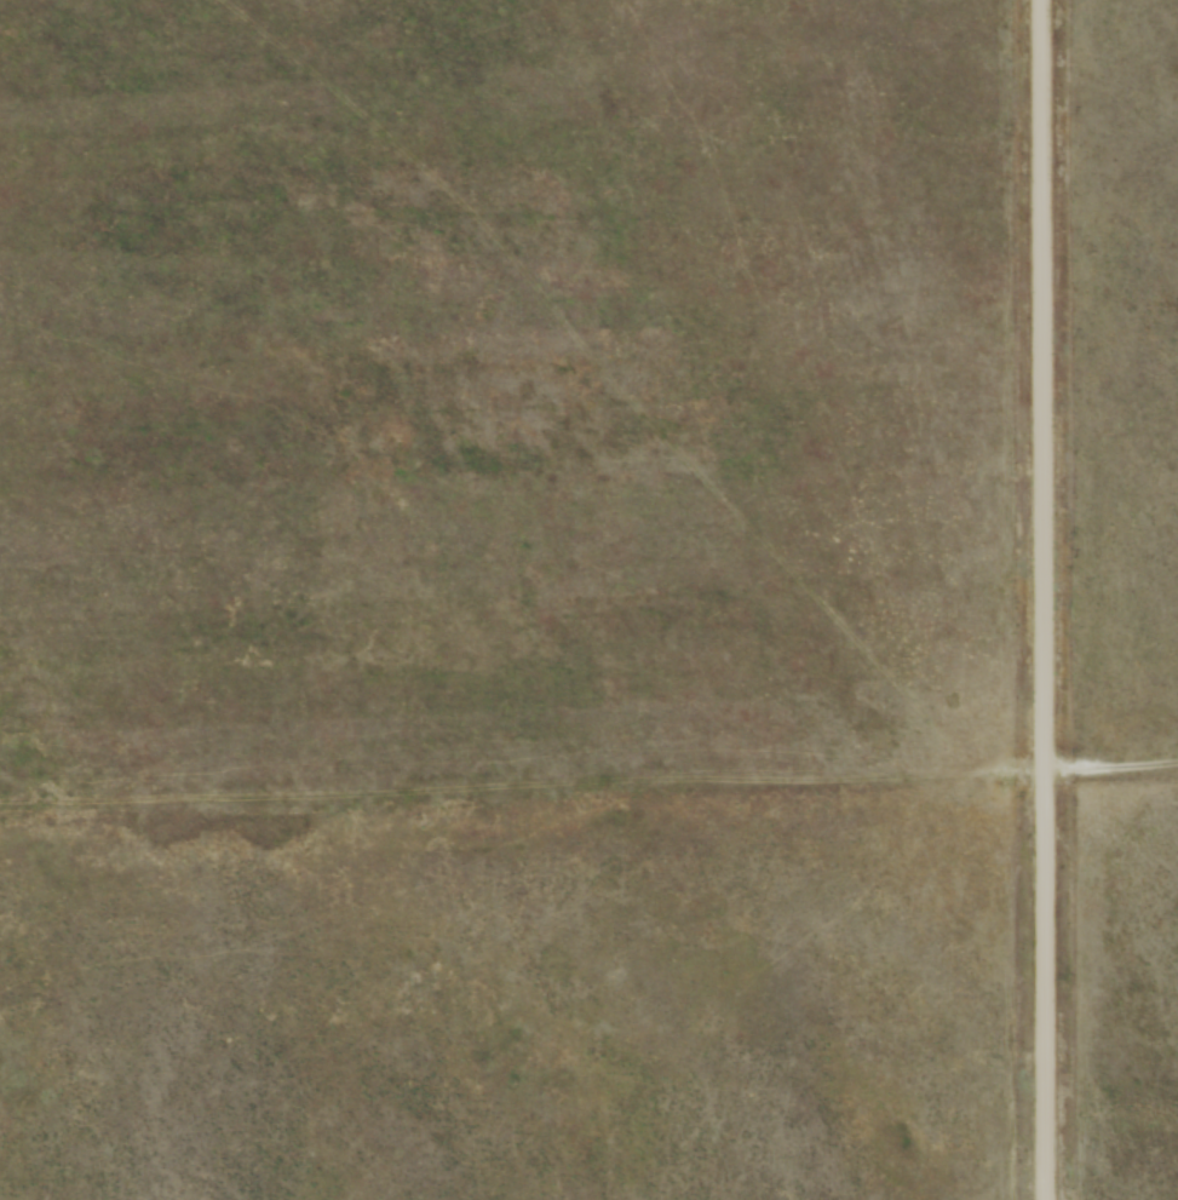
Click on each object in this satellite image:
road: (1042, 599)

